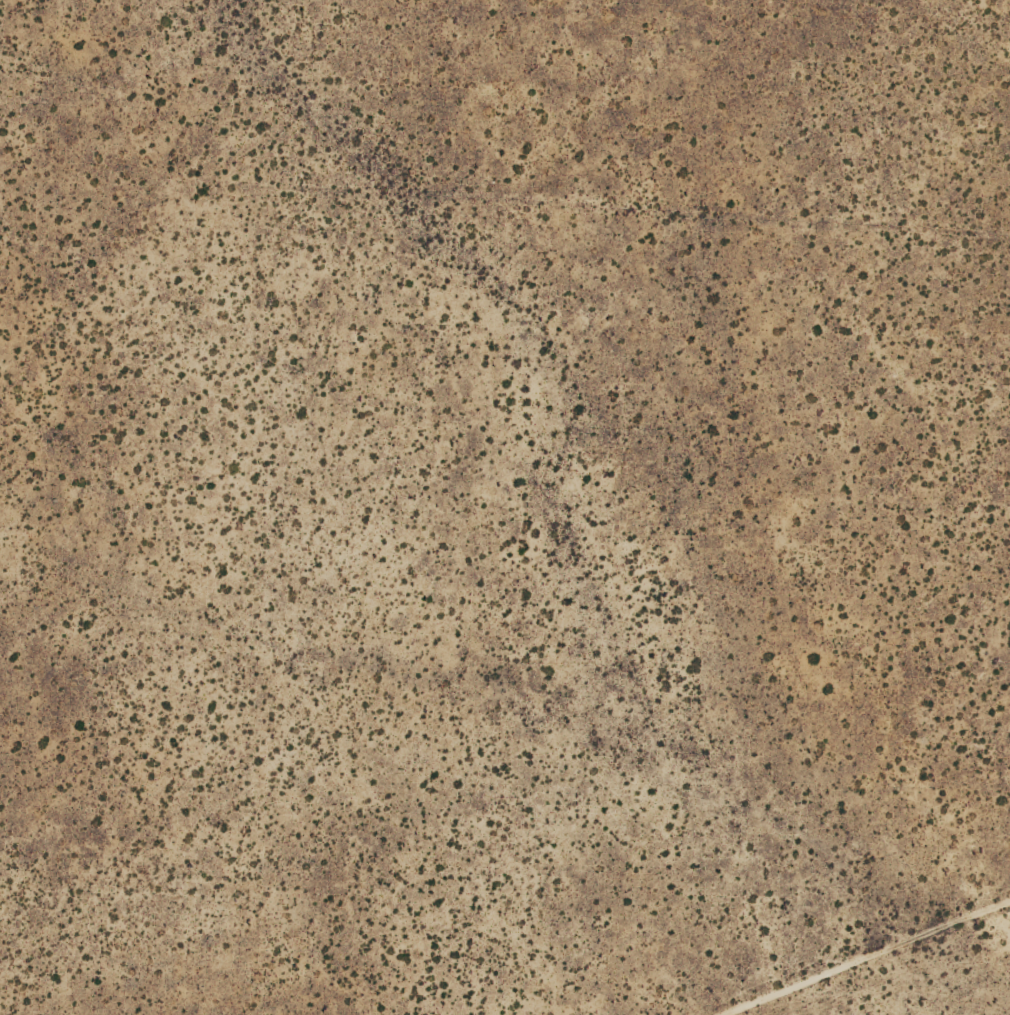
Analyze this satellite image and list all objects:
road: (851, 949)

